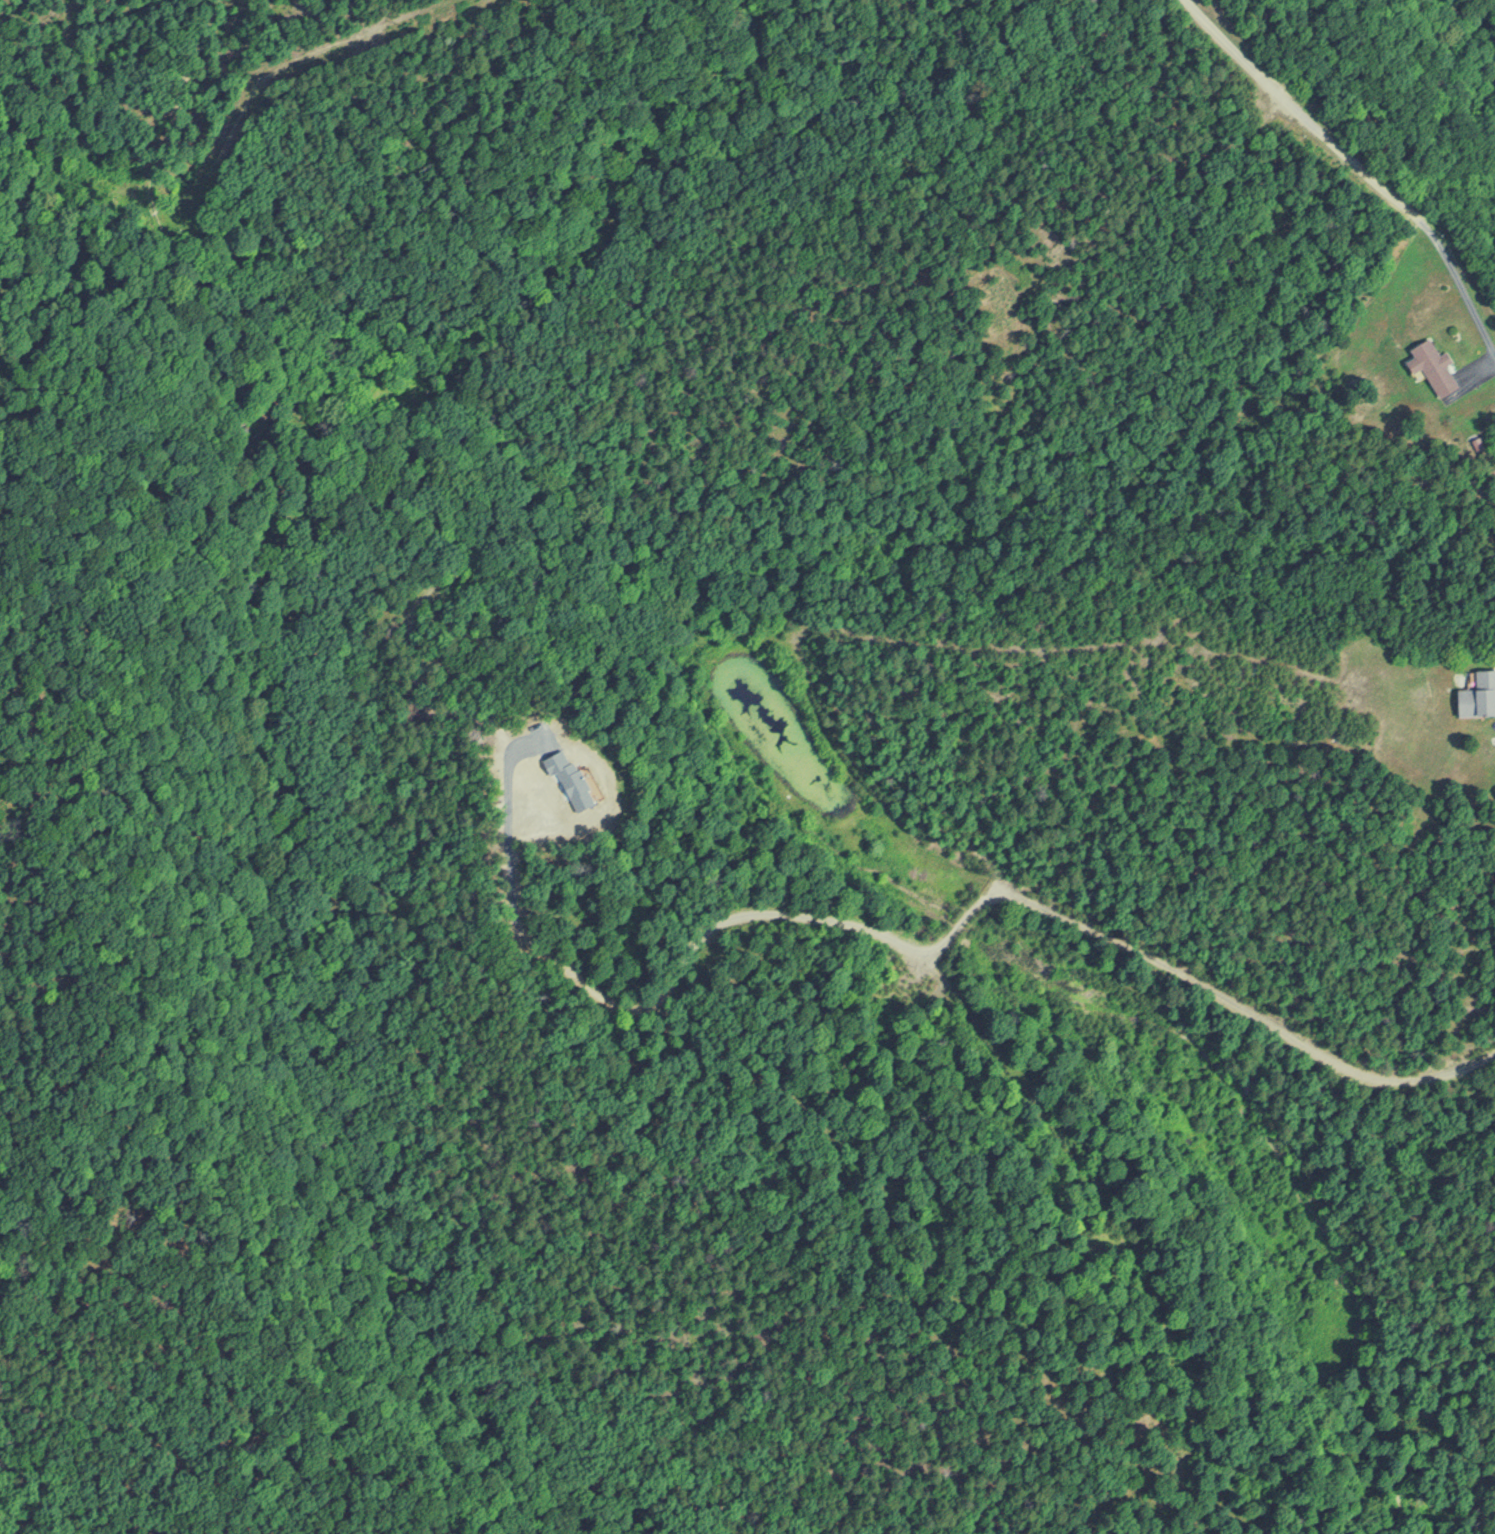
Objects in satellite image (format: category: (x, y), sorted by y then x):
road: (1357, 163)
building: (1434, 366)
building: (240, 392)
building: (1479, 693)
road: (864, 785)
road: (967, 1004)

